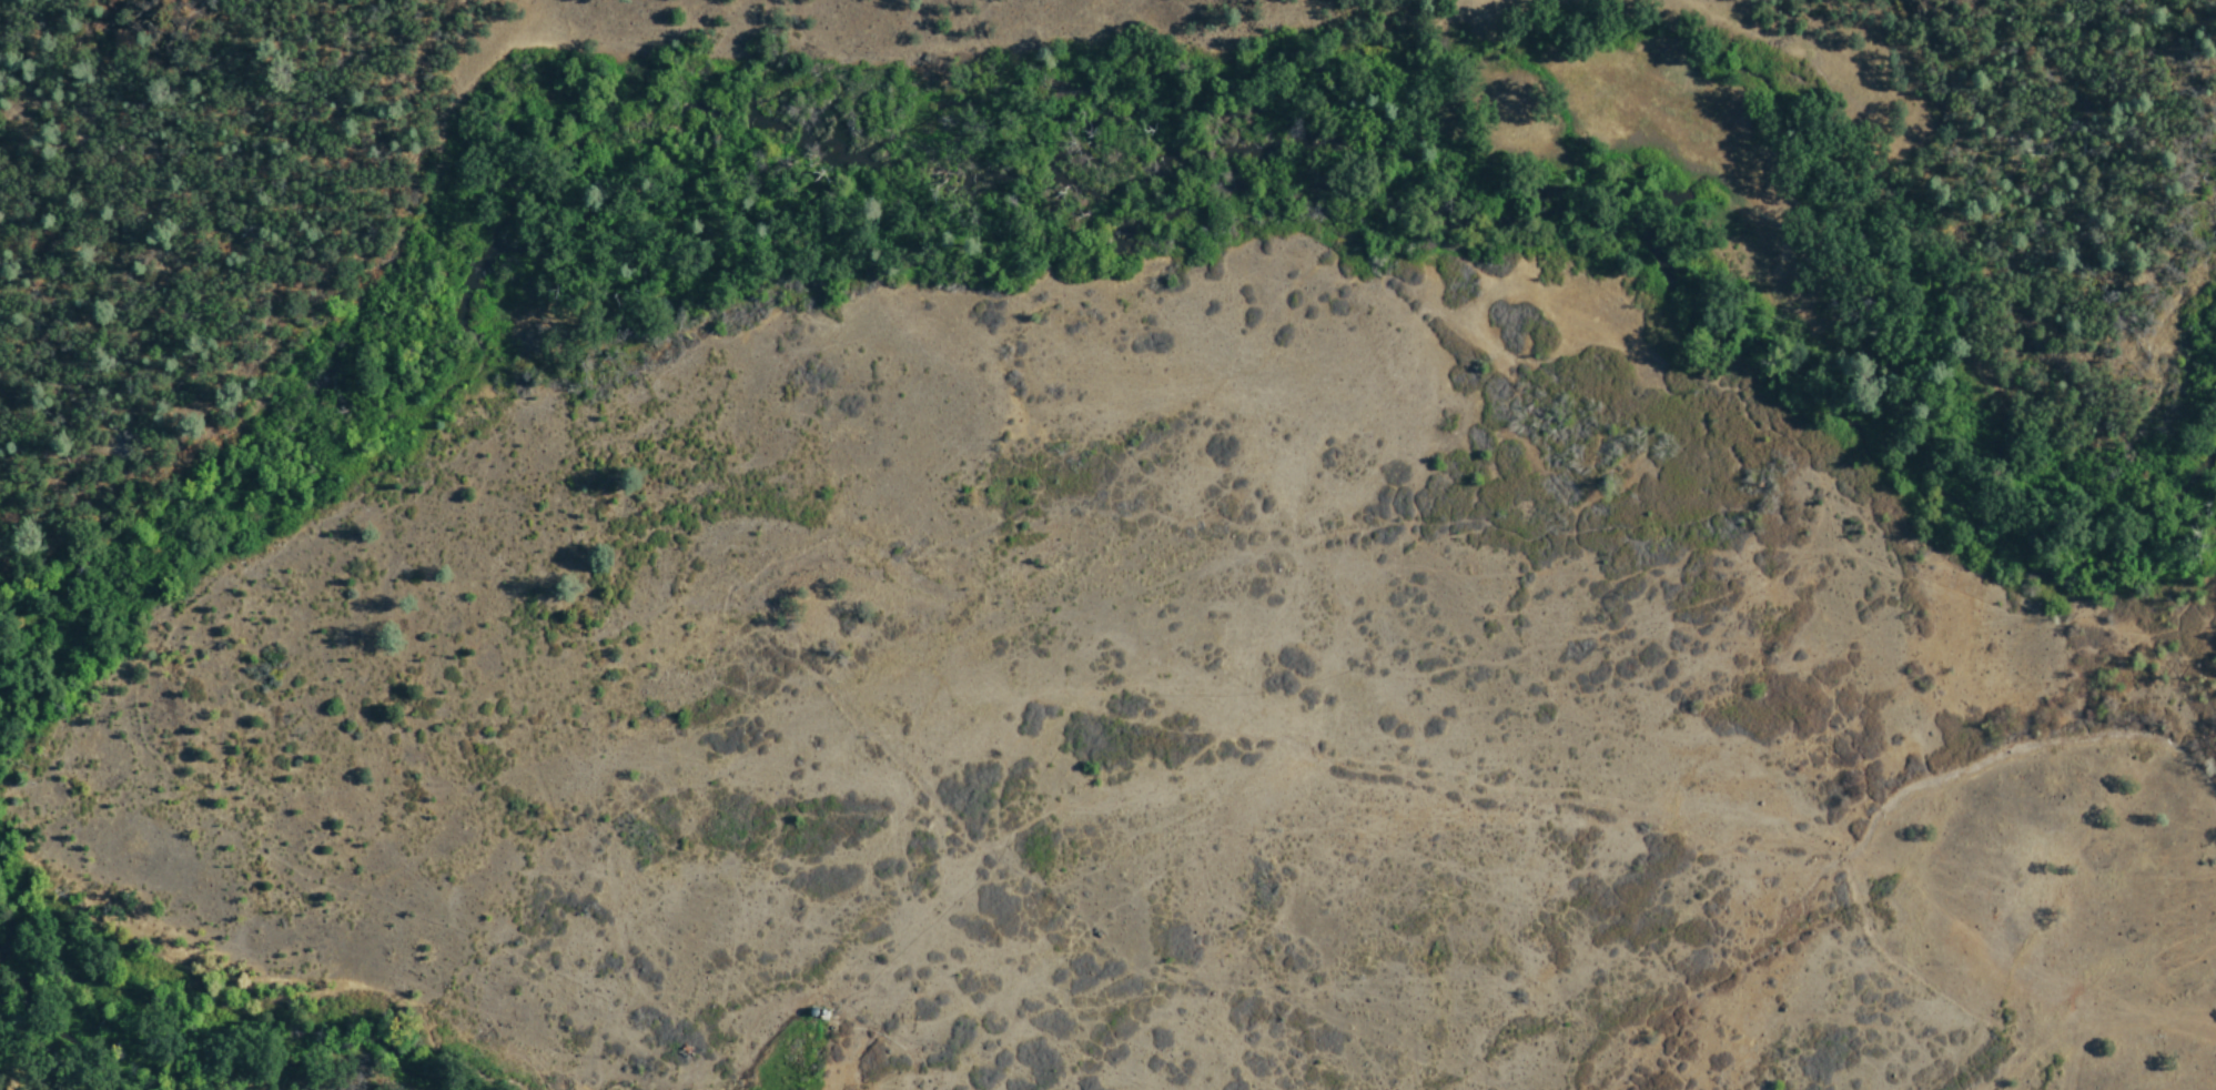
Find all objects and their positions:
road: (2091, 1026)
road: (2072, 1058)

